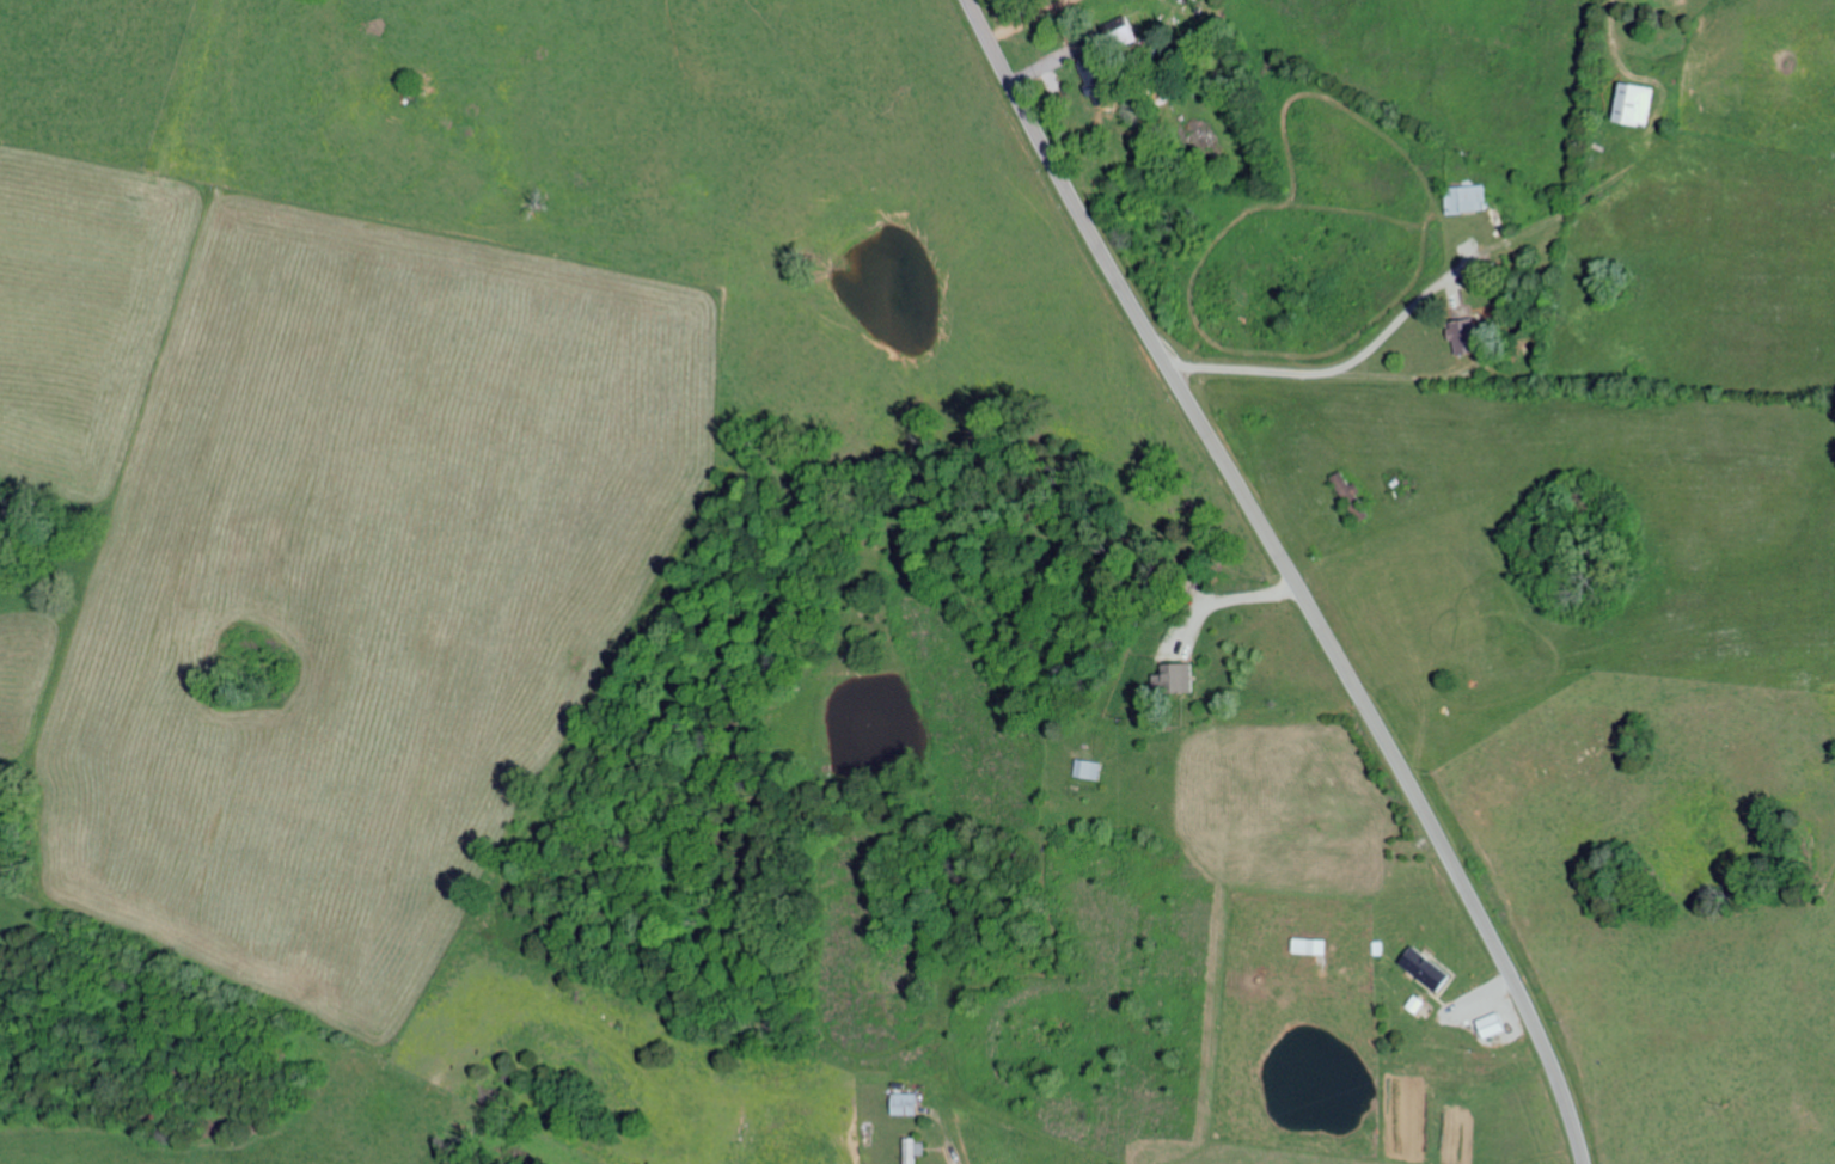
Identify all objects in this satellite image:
building: (1093, 68)
building: (1632, 103)
building: (1464, 197)
building: (1461, 336)
road: (1287, 575)
road: (1224, 599)
building: (1173, 676)
building: (1084, 768)
building: (1308, 944)
building: (1424, 967)
building: (1491, 1024)
building: (901, 1102)
building: (911, 1148)

